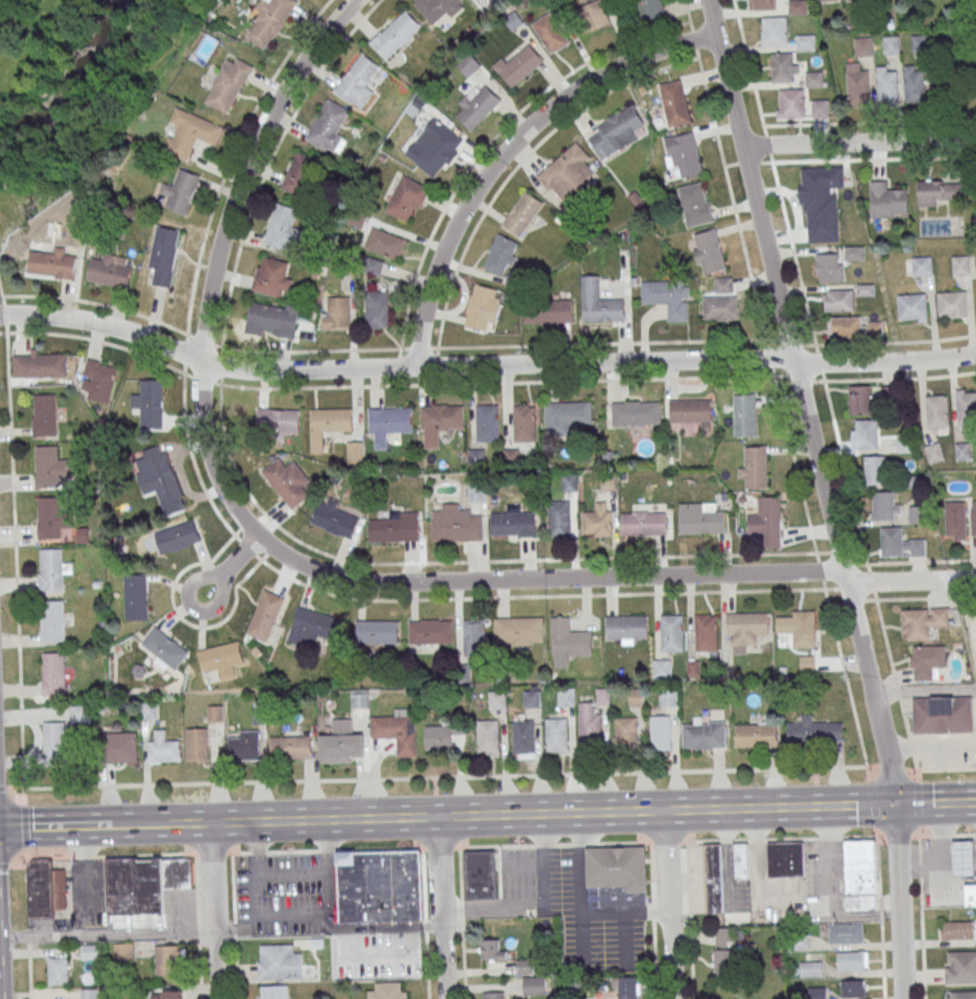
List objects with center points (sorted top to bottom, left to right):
building: (762, 5)
building: (798, 6)
building: (438, 8)
building: (650, 9)
building: (595, 15)
building: (269, 19)
building: (775, 30)
building: (394, 33)
building: (550, 33)
building: (805, 42)
building: (892, 44)
building: (918, 44)
building: (863, 46)
building: (468, 65)
building: (518, 67)
building: (784, 67)
river: (67, 74)
building: (356, 78)
building: (814, 78)
building: (229, 82)
park: (58, 83)
building: (858, 86)
building: (888, 86)
building: (915, 86)
building: (958, 91)
building: (674, 103)
building: (791, 103)
building: (477, 106)
building: (820, 108)
road: (869, 121)
building: (327, 125)
building: (190, 131)
building: (616, 133)
road: (858, 142)
road: (507, 148)
building: (439, 150)
building: (684, 150)
road: (482, 152)
road: (874, 158)
road: (522, 161)
road: (246, 166)
building: (567, 172)
road: (225, 174)
building: (300, 175)
building: (822, 185)
building: (182, 190)
building: (940, 191)
building: (406, 197)
building: (887, 200)
building: (695, 203)
building: (522, 214)
building: (282, 227)
building: (384, 243)
building: (707, 252)
building: (854, 252)
building: (164, 256)
building: (500, 256)
building: (52, 264)
building: (922, 265)
building: (960, 265)
building: (375, 266)
building: (829, 267)
building: (110, 270)
building: (272, 277)
road: (1, 288)
building: (667, 296)
building: (838, 299)
building: (599, 303)
building: (952, 304)
building: (913, 307)
building: (482, 308)
building: (720, 308)
building: (376, 309)
building: (548, 311)
building: (335, 313)
building: (273, 320)
building: (846, 325)
road: (485, 347)
road: (484, 365)
building: (40, 366)
road: (774, 376)
building: (97, 381)
road: (487, 384)
road: (825, 385)
building: (860, 399)
road: (802, 402)
building: (151, 403)
building: (966, 406)
building: (691, 409)
building: (937, 411)
building: (635, 412)
building: (568, 413)
building: (45, 415)
building: (744, 415)
building: (442, 416)
building: (331, 419)
building: (390, 419)
building: (278, 420)
building: (486, 423)
building: (524, 423)
building: (867, 434)
building: (962, 451)
building: (934, 452)
building: (355, 453)
building: (48, 467)
building: (755, 468)
building: (875, 469)
building: (158, 479)
building: (287, 482)
building: (569, 483)
building: (476, 492)
building: (886, 505)
building: (917, 514)
building: (701, 517)
building: (49, 518)
building: (559, 519)
building: (956, 520)
building: (973, 521)
building: (334, 522)
building: (598, 522)
building: (644, 522)
building: (766, 522)
road: (270, 523)
building: (455, 523)
building: (515, 523)
building: (395, 527)
building: (172, 537)
road: (14, 542)
building: (900, 543)
road: (921, 561)
road: (854, 562)
road: (232, 564)
building: (52, 570)
road: (515, 579)
road: (835, 589)
building: (135, 597)
road: (912, 597)
road: (433, 602)
building: (264, 616)
road: (182, 619)
building: (52, 622)
building: (923, 622)
building: (625, 627)
building: (312, 628)
building: (517, 629)
building: (745, 630)
building: (804, 630)
building: (375, 633)
building: (429, 633)
building: (670, 633)
building: (705, 633)
building: (472, 637)
building: (567, 642)
building: (164, 647)
building: (220, 658)
building: (926, 661)
building: (662, 669)
building: (54, 673)
road: (924, 690)
building: (668, 697)
building: (531, 698)
building: (566, 698)
building: (359, 701)
building: (149, 710)
building: (215, 714)
building: (942, 714)
building: (589, 723)
building: (398, 731)
building: (626, 731)
building: (815, 732)
building: (660, 733)
building: (524, 735)
building: (556, 735)
building: (704, 735)
building: (61, 736)
building: (755, 736)
building: (437, 738)
building: (490, 739)
building: (342, 742)
building: (196, 745)
building: (245, 746)
building: (120, 748)
building: (291, 748)
building: (164, 749)
road: (491, 776)
road: (935, 804)
traffic signals: (895, 805)
road: (839, 806)
road: (479, 814)
road: (144, 824)
road: (55, 826)
road: (487, 847)
building: (868, 853)
building: (963, 855)
gas station: (963, 855)
building: (786, 859)
building: (741, 860)
building: (481, 874)
building: (619, 875)
road: (291, 876)
building: (712, 877)
building: (144, 884)
road: (878, 884)
road: (920, 884)
building: (379, 886)
building: (46, 889)
building: (970, 894)
road: (898, 902)
road: (538, 903)
road: (668, 904)
road: (442, 907)
road: (578, 907)
road: (215, 910)
road: (271, 916)
building: (958, 930)
building: (846, 932)
road: (108, 935)
building: (492, 949)
building: (723, 951)
building: (89, 952)
building: (123, 952)
building: (168, 960)
building: (852, 960)
building: (279, 961)
building: (395, 961)
building: (525, 966)
building: (960, 966)
building: (811, 967)
building: (59, 970)
building: (534, 984)
building: (628, 987)
building: (852, 987)
building: (387, 990)
building: (274, 991)
building: (816, 993)
building: (88, 994)
building: (961, 994)
building: (174, 995)
building: (494, 995)

